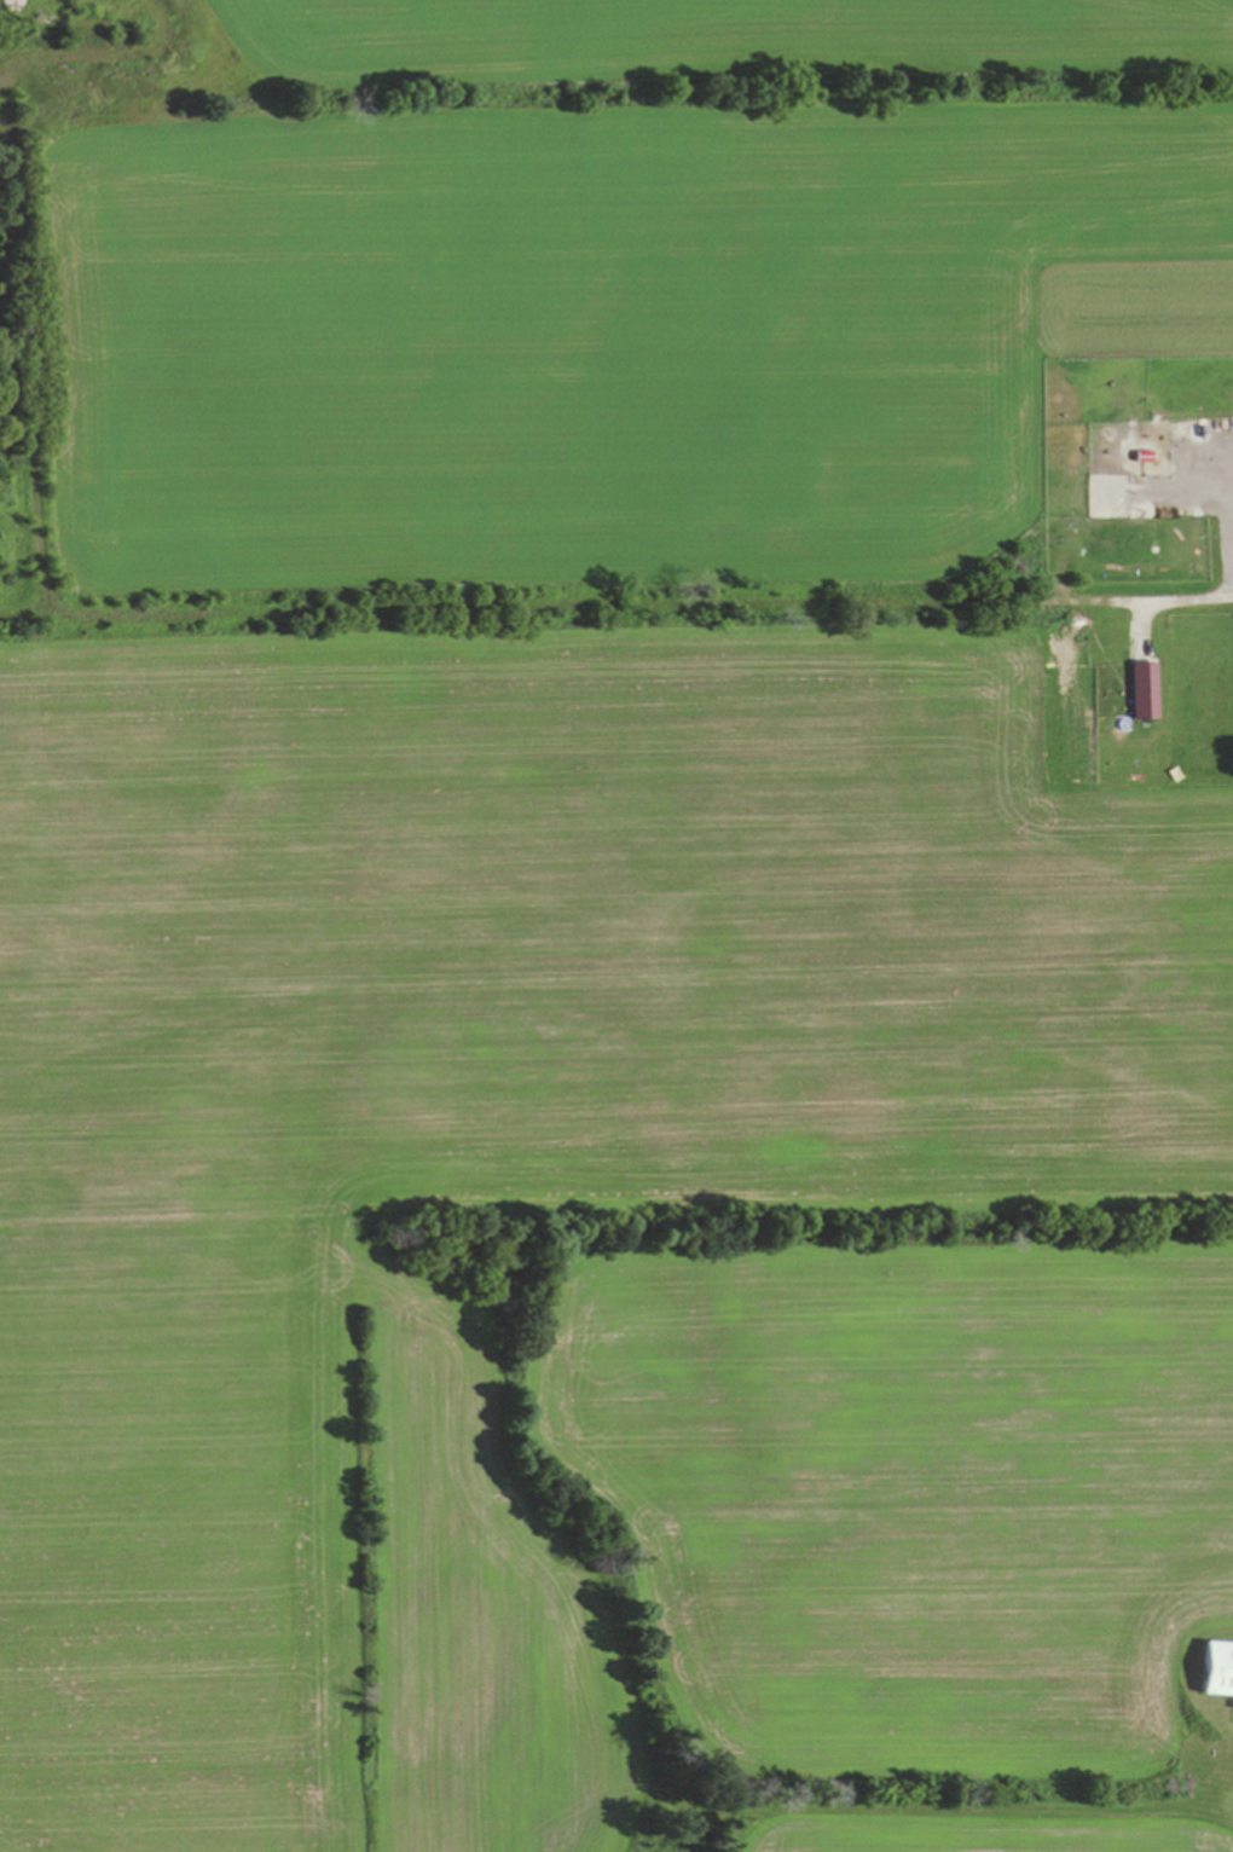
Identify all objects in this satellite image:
road: (1232, 543)
building: (1146, 691)
building: (1216, 1671)

